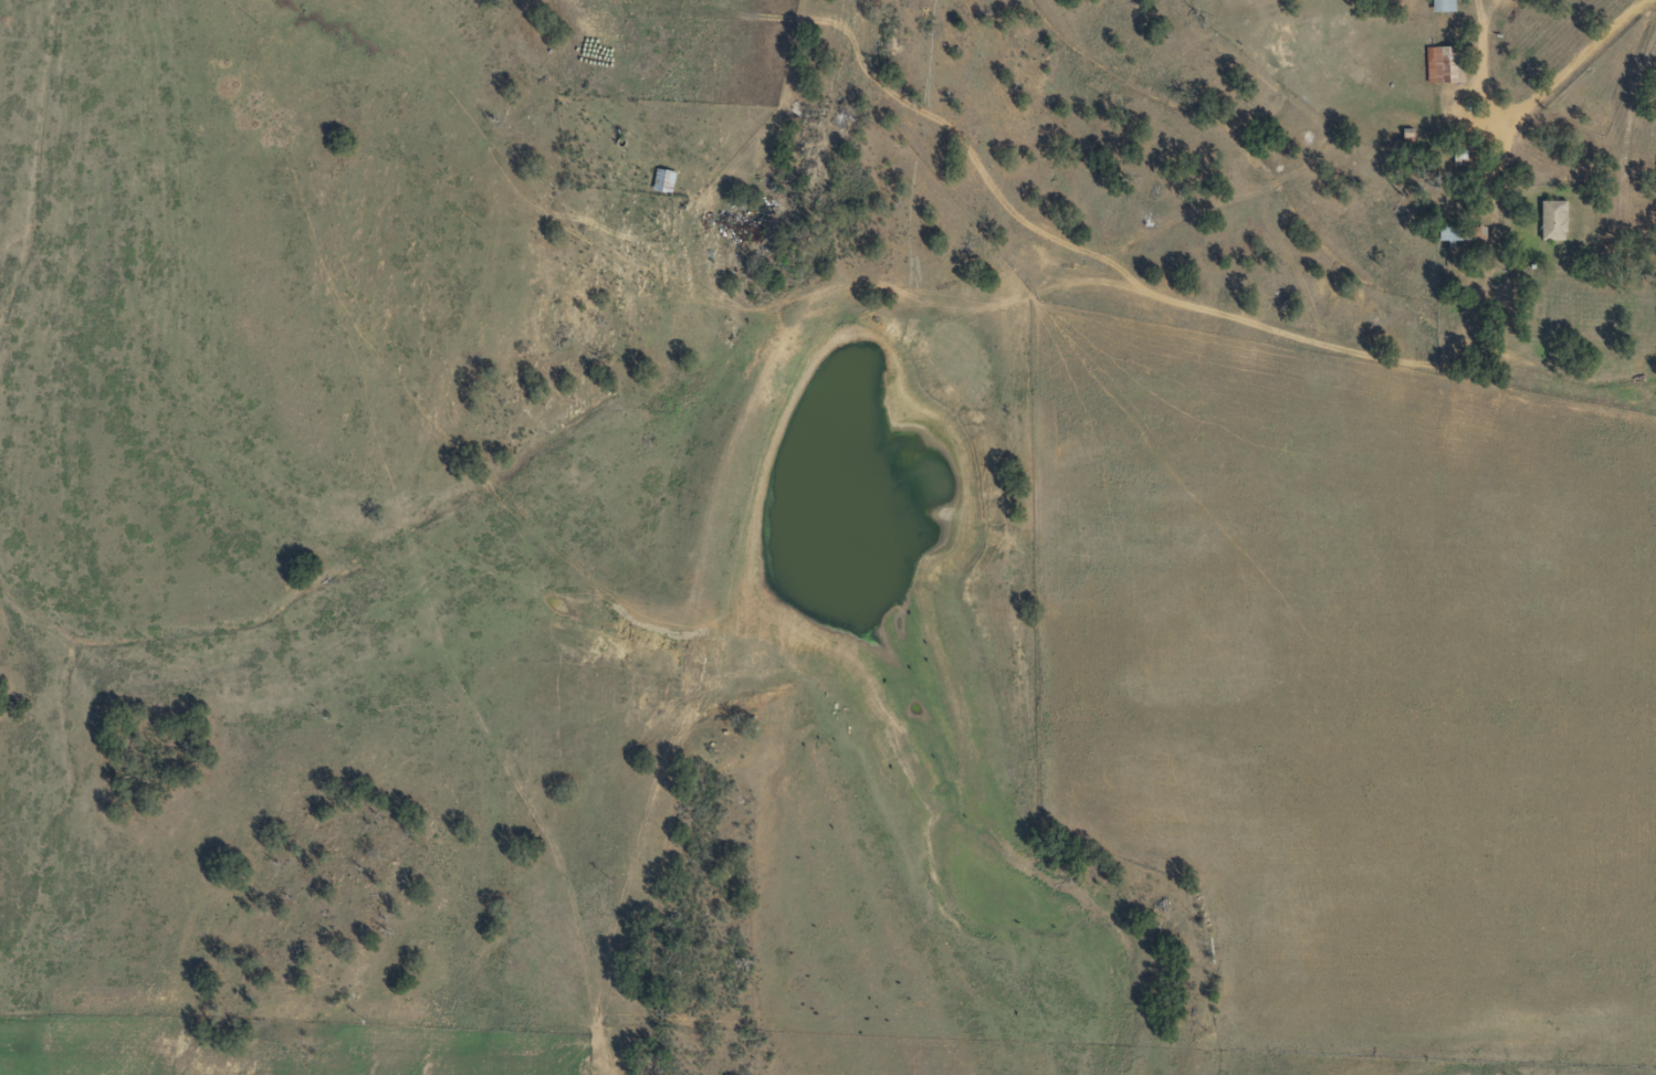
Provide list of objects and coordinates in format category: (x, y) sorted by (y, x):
building: (1444, 6)
building: (1446, 65)
building: (1459, 159)
building: (663, 181)
building: (1553, 221)
building: (1463, 234)
road: (1103, 247)

